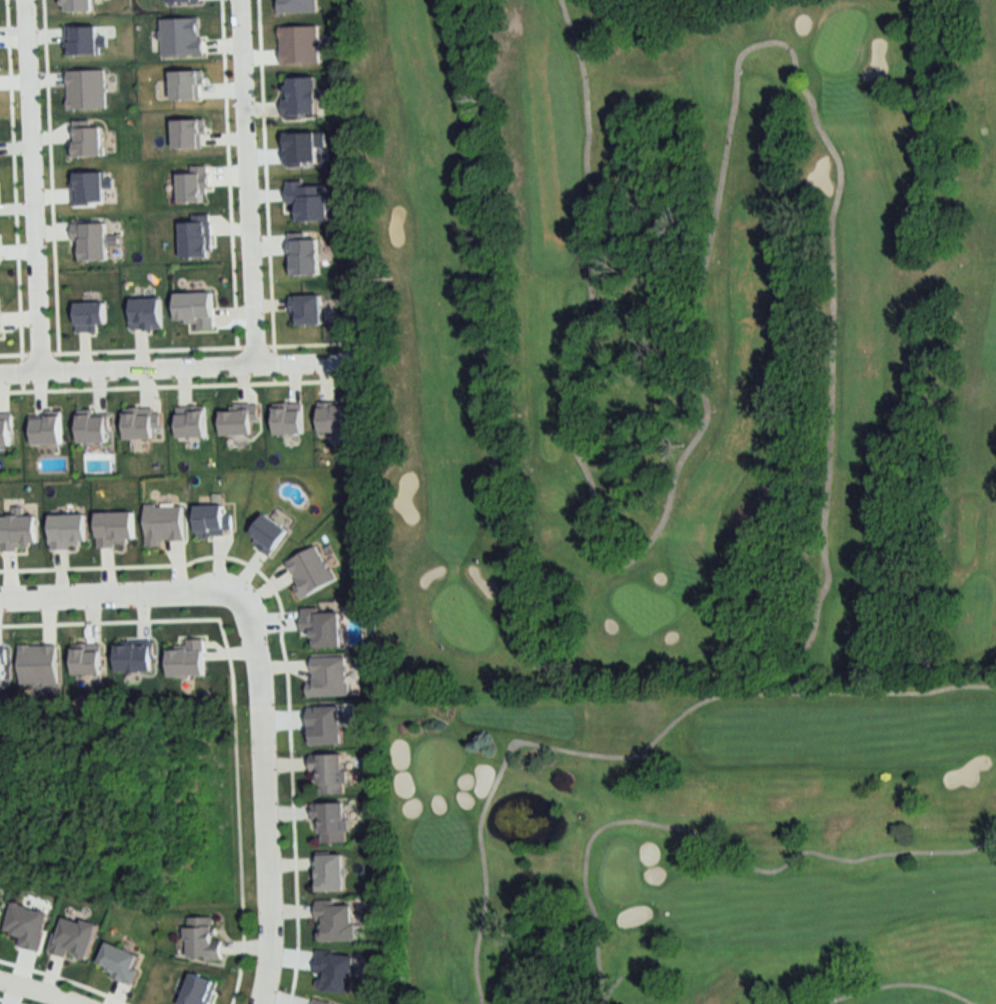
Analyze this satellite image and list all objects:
road: (250, 180)
road: (34, 184)
road: (698, 276)
park: (674, 334)
road: (172, 363)
road: (508, 571)
road: (912, 638)
road: (255, 677)
building: (330, 774)
building: (331, 822)
park: (687, 838)
building: (0, 902)
building: (337, 920)
building: (201, 939)
building: (199, 990)
road: (36, 992)
building: (320, 1002)

